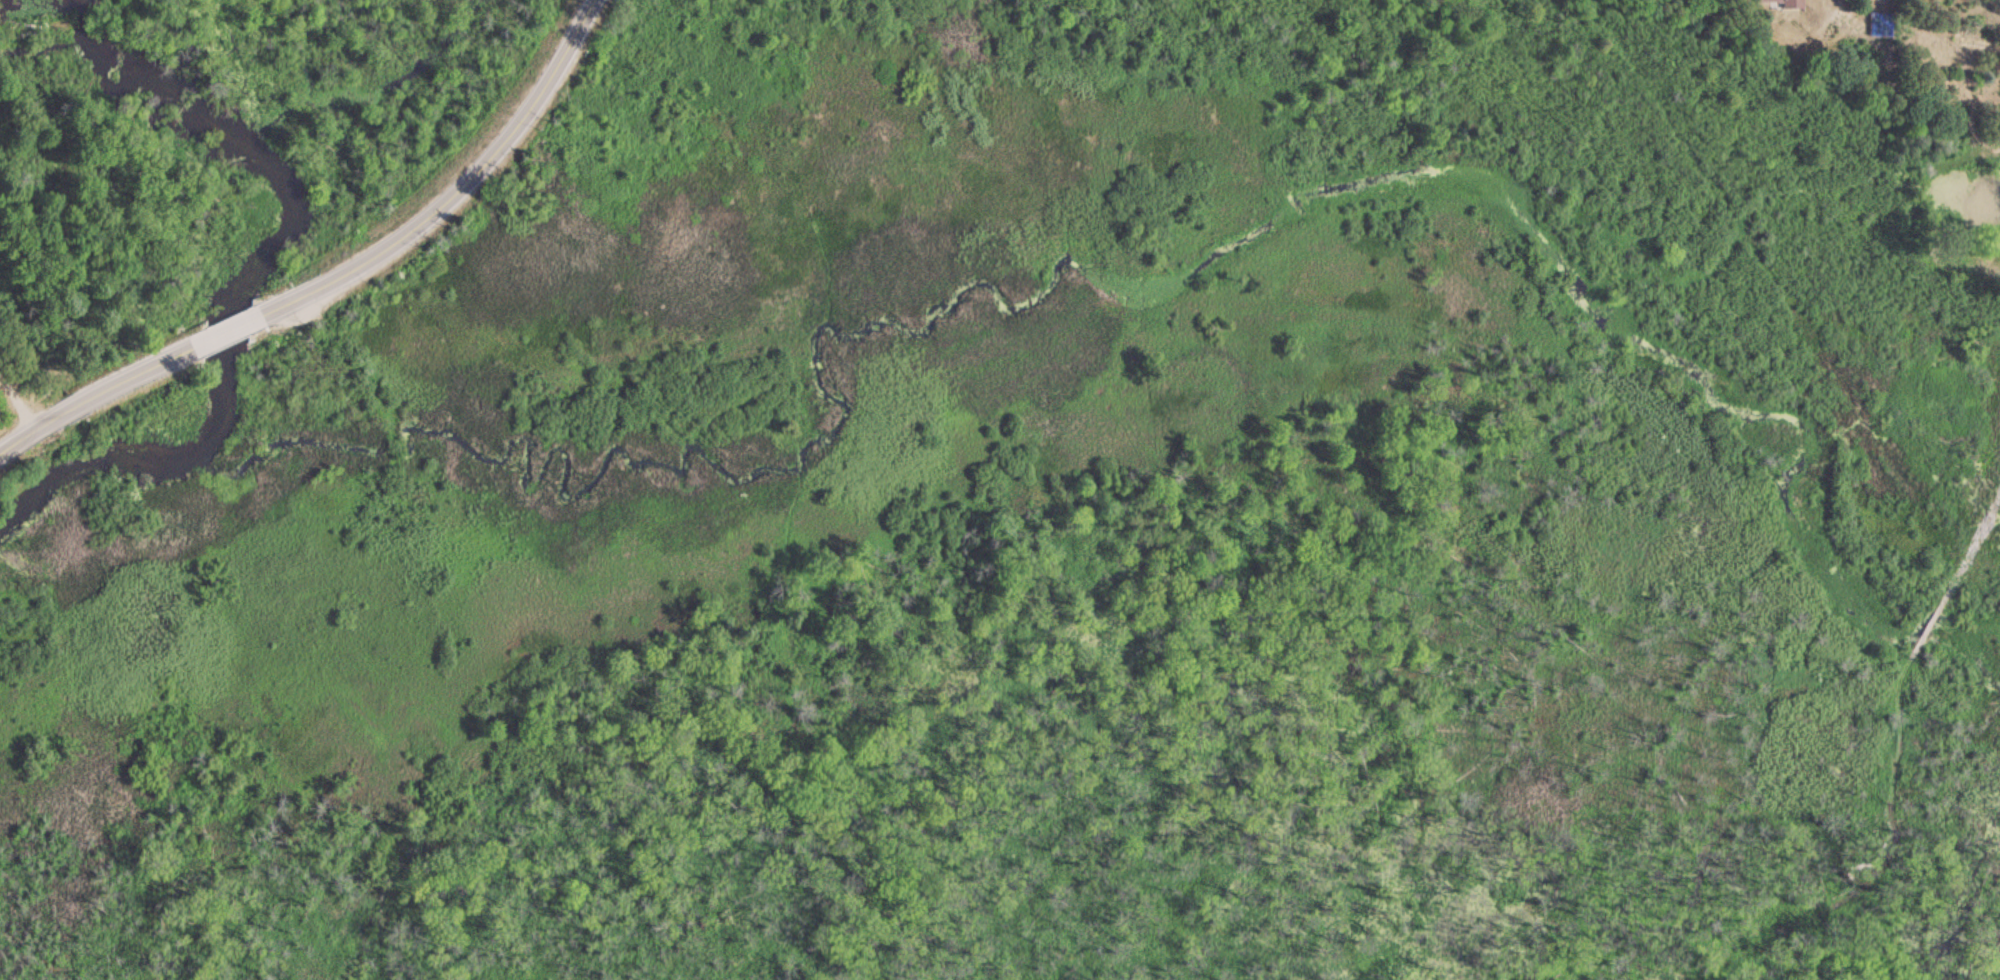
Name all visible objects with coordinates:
building: (1787, 3)
building: (1970, 41)
road: (452, 195)
road: (228, 334)
road: (101, 392)
road: (17, 400)

